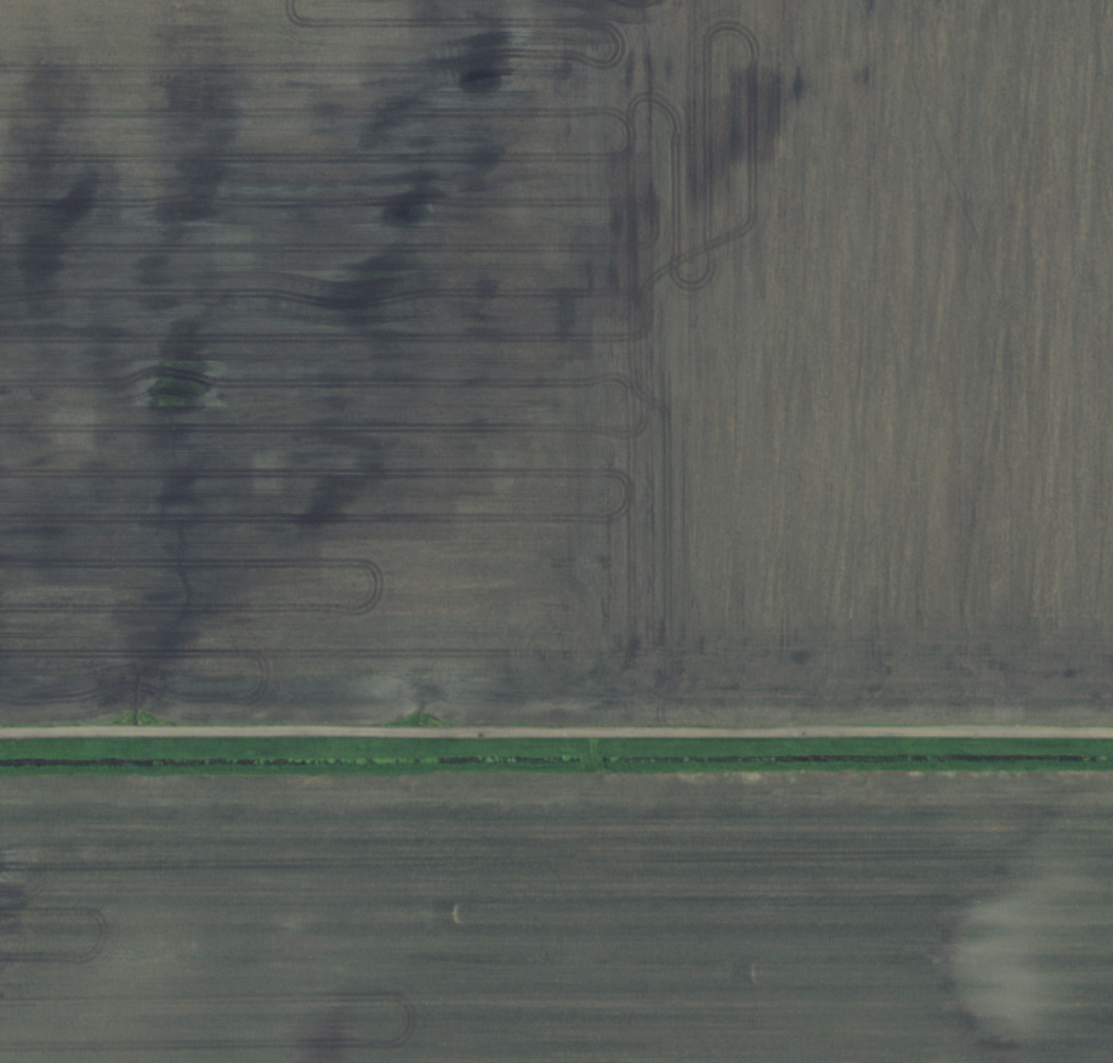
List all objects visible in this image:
road: (556, 737)

